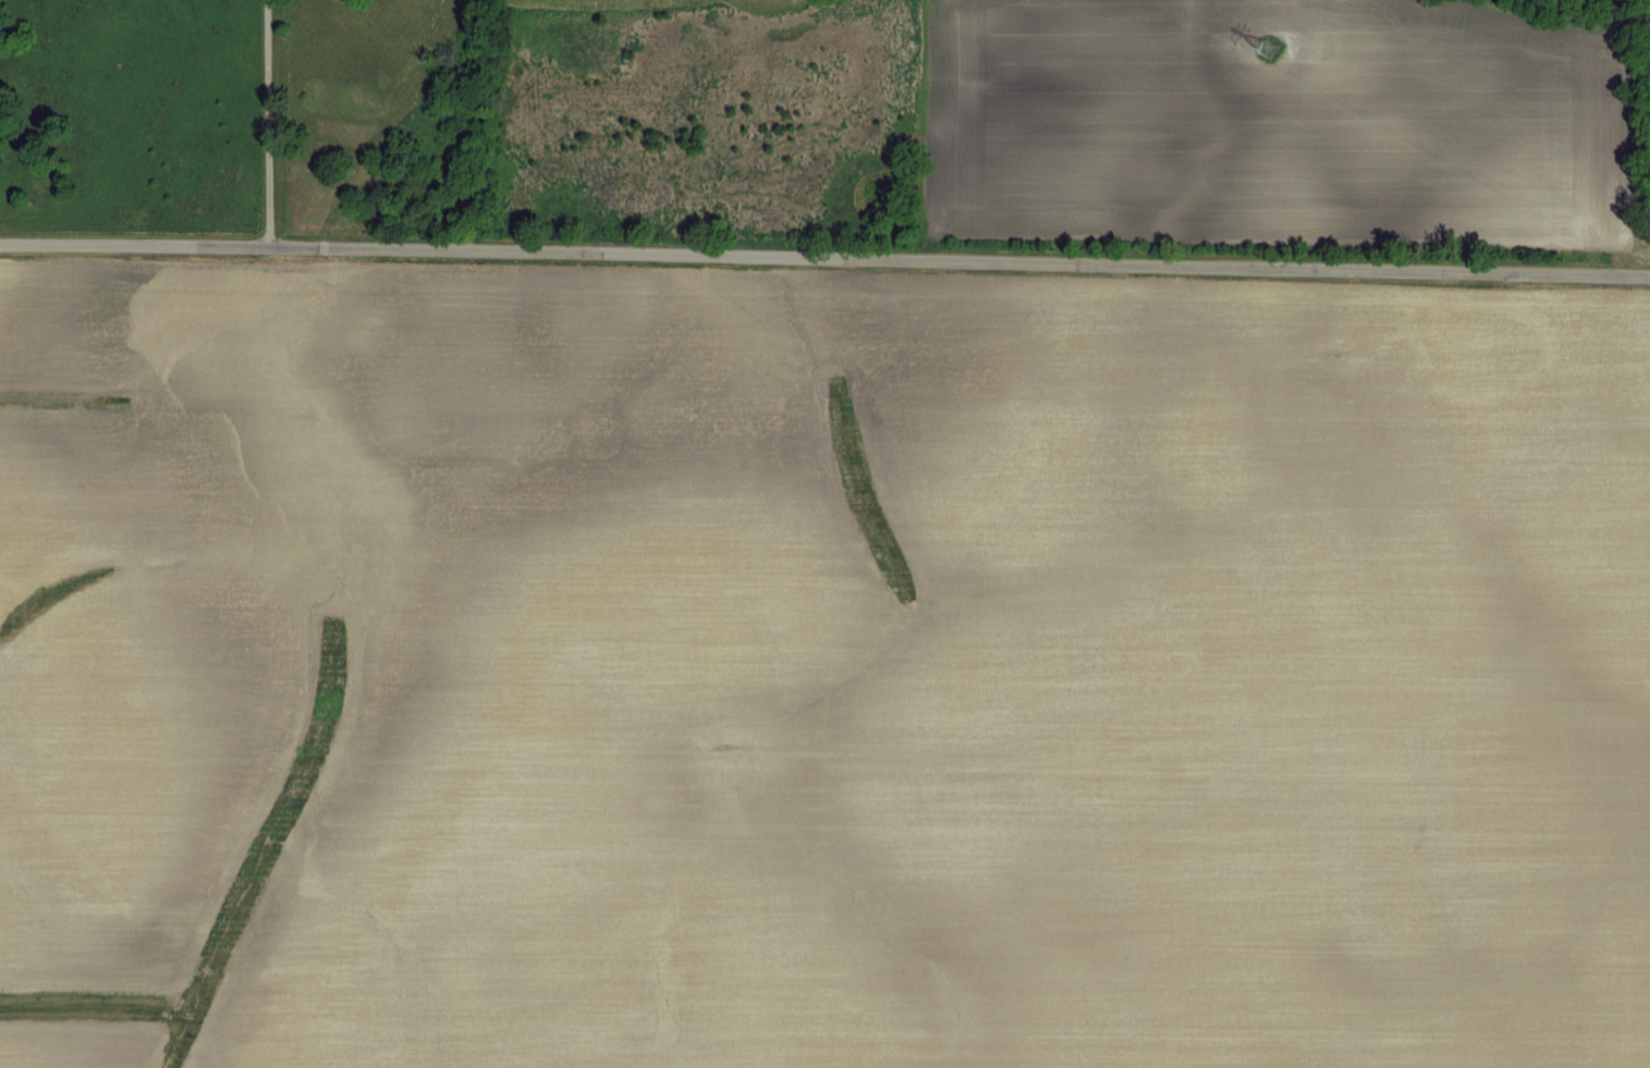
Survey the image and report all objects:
power tower: (1250, 40)
road: (269, 124)
road: (824, 259)

